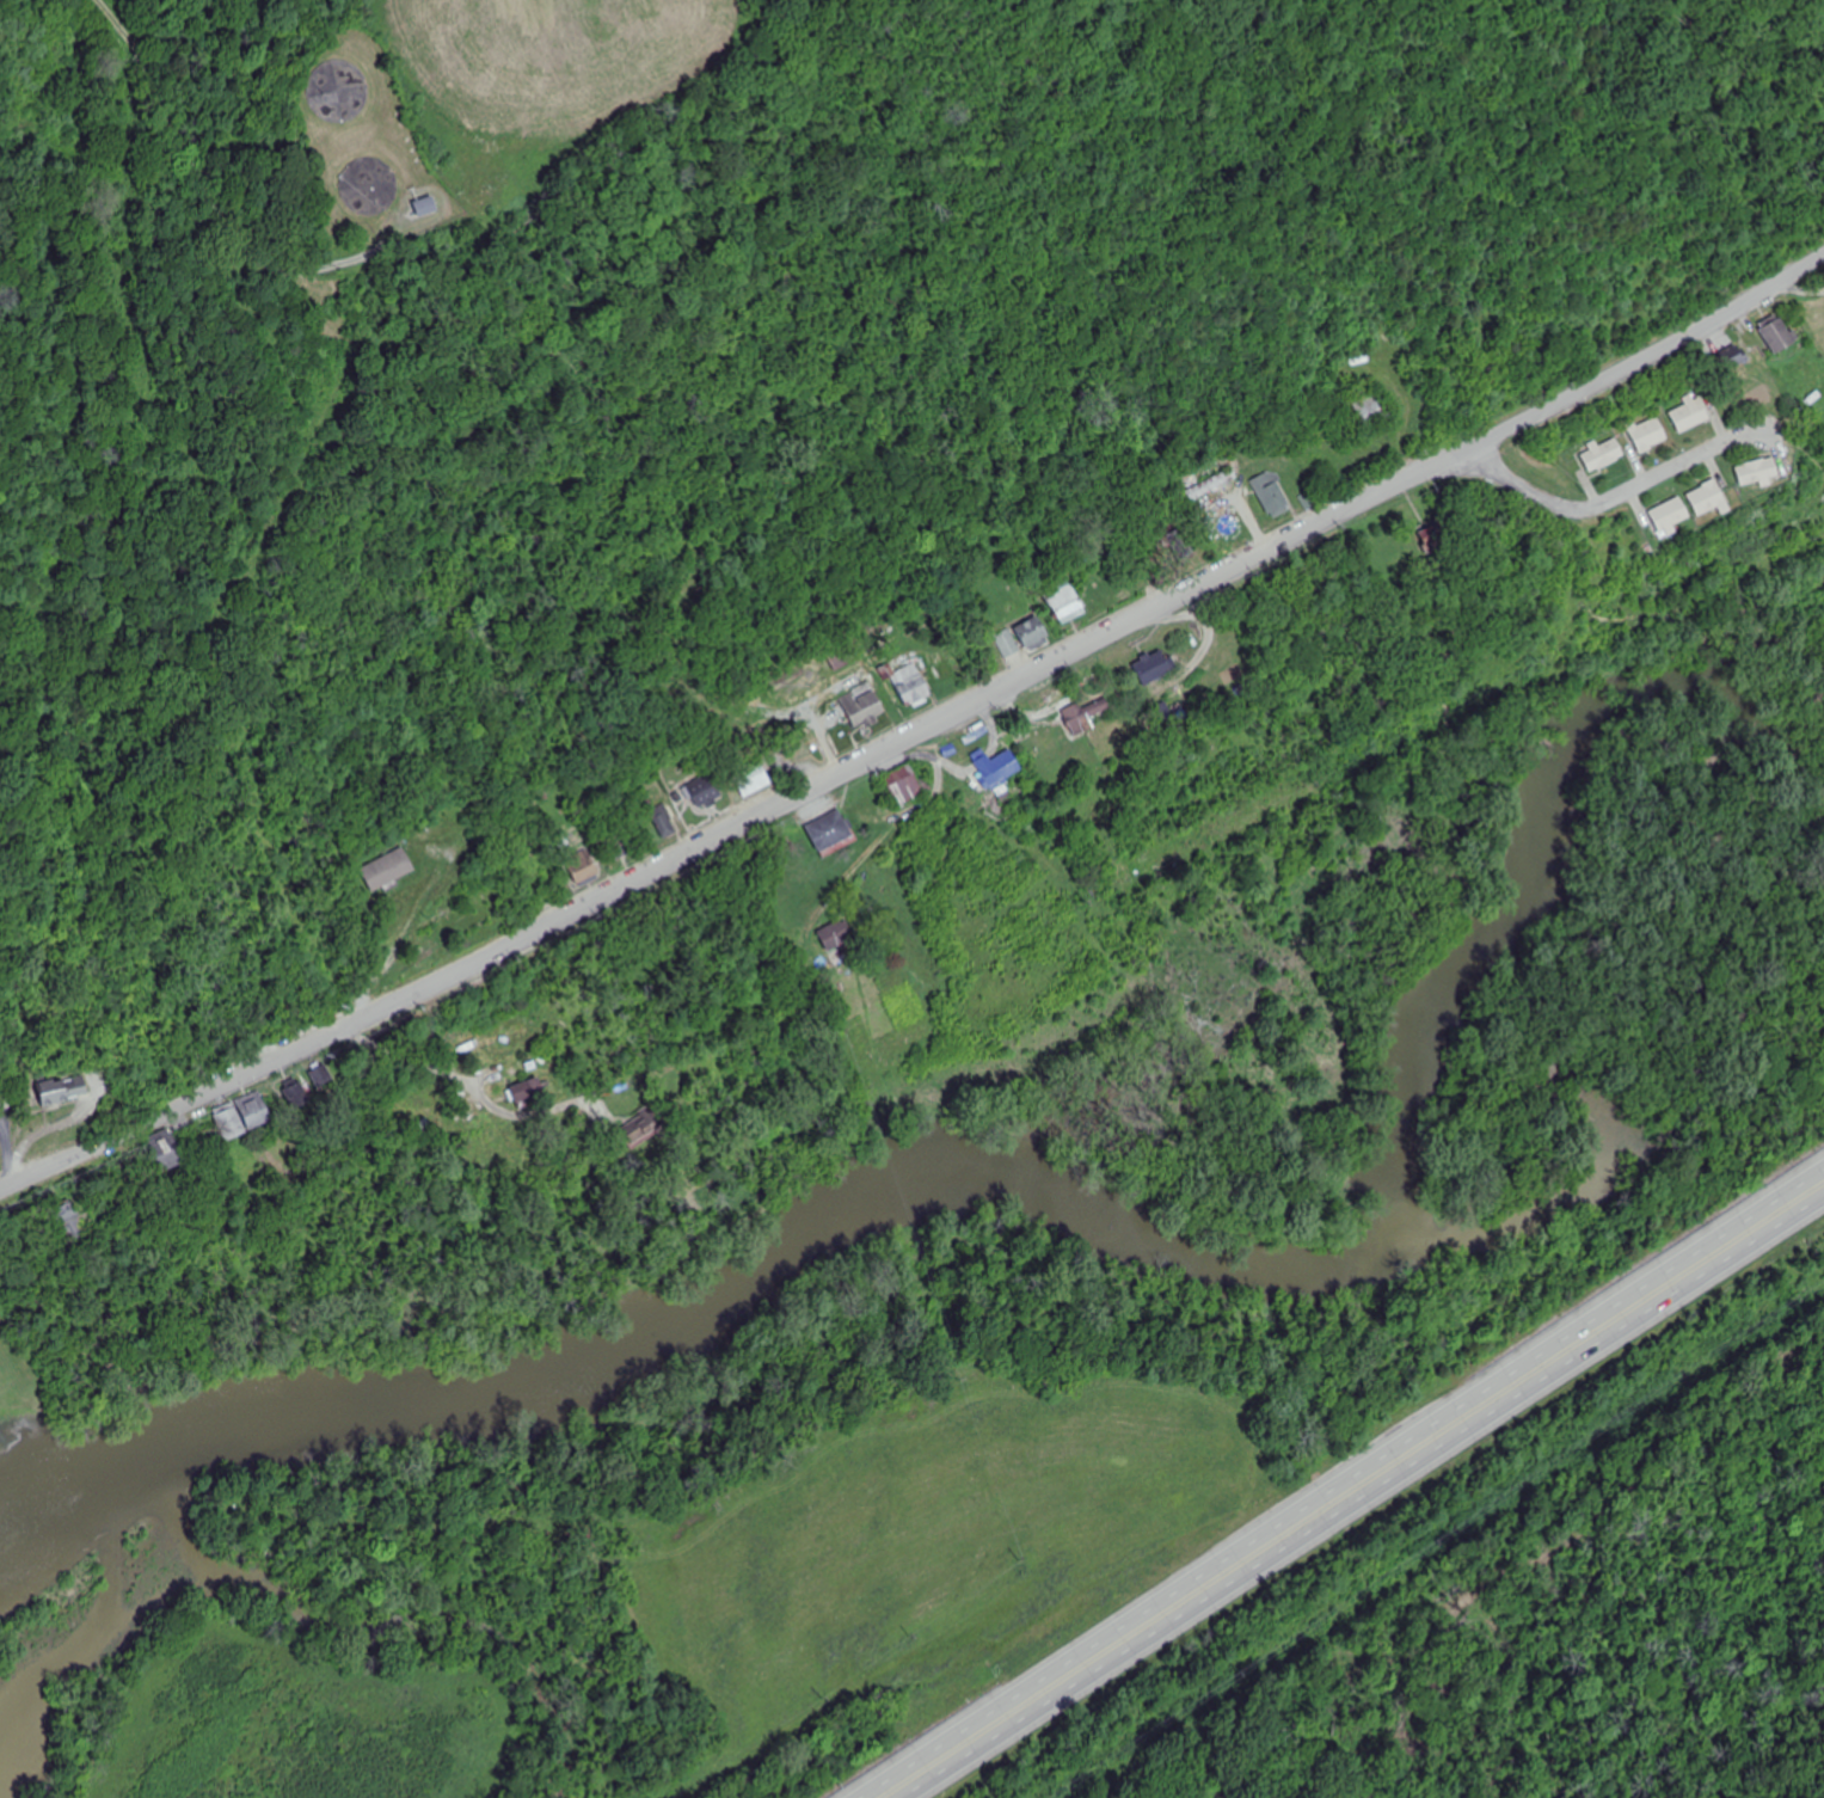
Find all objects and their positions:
road: (170, 146)
building: (426, 205)
building: (1779, 335)
building: (1733, 360)
building: (1371, 409)
building: (1693, 412)
building: (1648, 434)
building: (1604, 454)
building: (1761, 472)
building: (1211, 484)
building: (1272, 493)
road: (1621, 495)
building: (1709, 497)
building: (1670, 516)
building: (1432, 536)
building: (1068, 601)
building: (1033, 633)
building: (1007, 644)
building: (1156, 667)
building: (913, 685)
building: (864, 705)
building: (1086, 714)
road: (917, 725)
building: (999, 766)
building: (753, 778)
building: (908, 785)
building: (706, 791)
building: (664, 821)
building: (831, 832)
building: (621, 847)
building: (586, 867)
building: (388, 869)
building: (835, 935)
building: (323, 1076)
building: (65, 1090)
building: (526, 1092)
building: (296, 1096)
building: (253, 1111)
building: (228, 1123)
building: (165, 1152)
building: (70, 1222)
road: (1341, 1481)
road: (1364, 1497)

